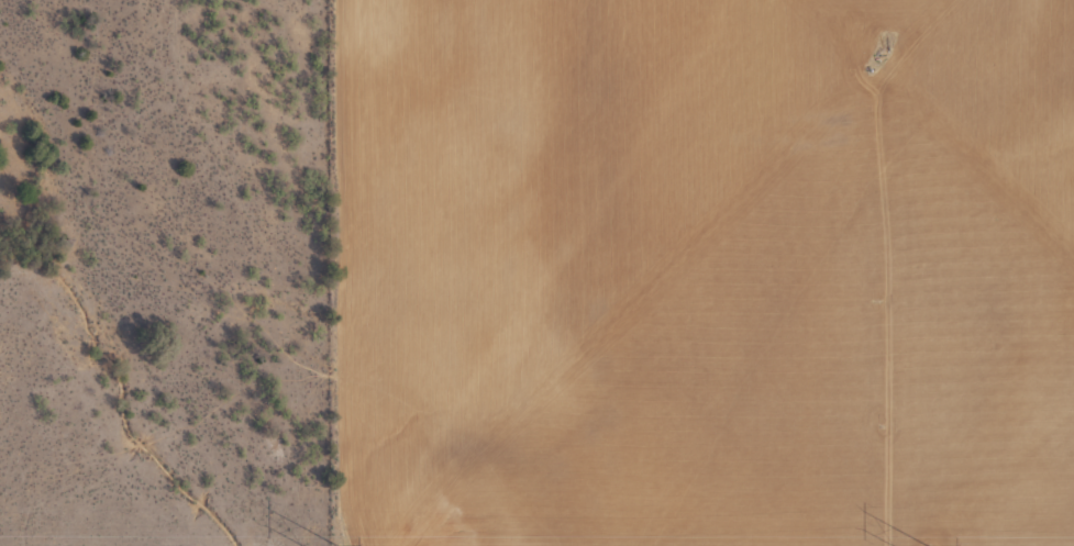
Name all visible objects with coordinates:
crop: (536, 272)

